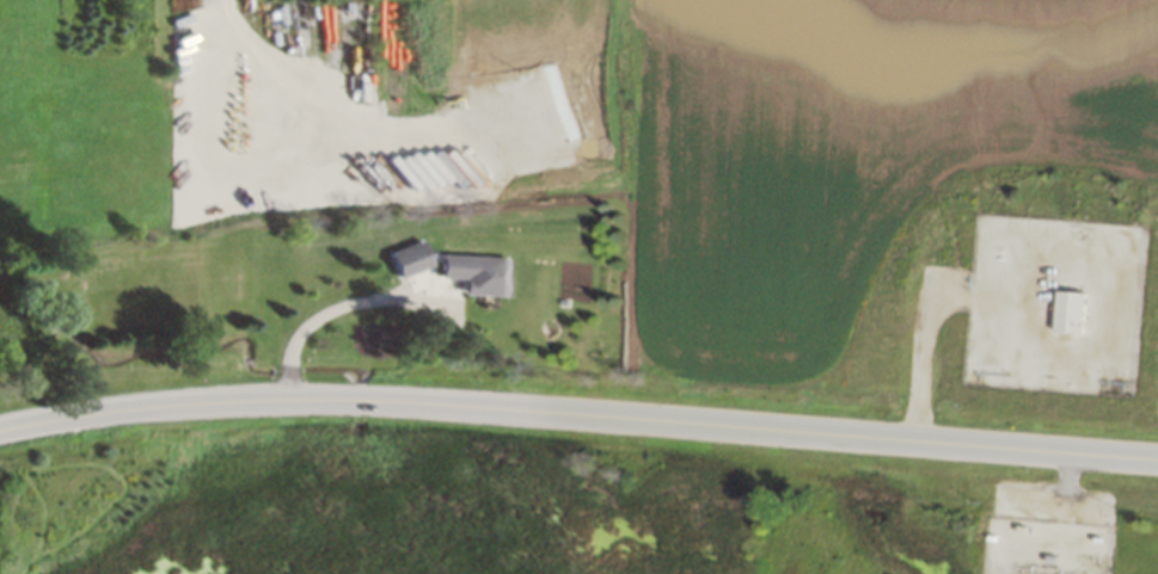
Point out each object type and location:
building: (400, 258)
building: (470, 272)
power substation: (1056, 303)
building: (1065, 310)
road: (578, 415)
power substation: (1048, 545)

